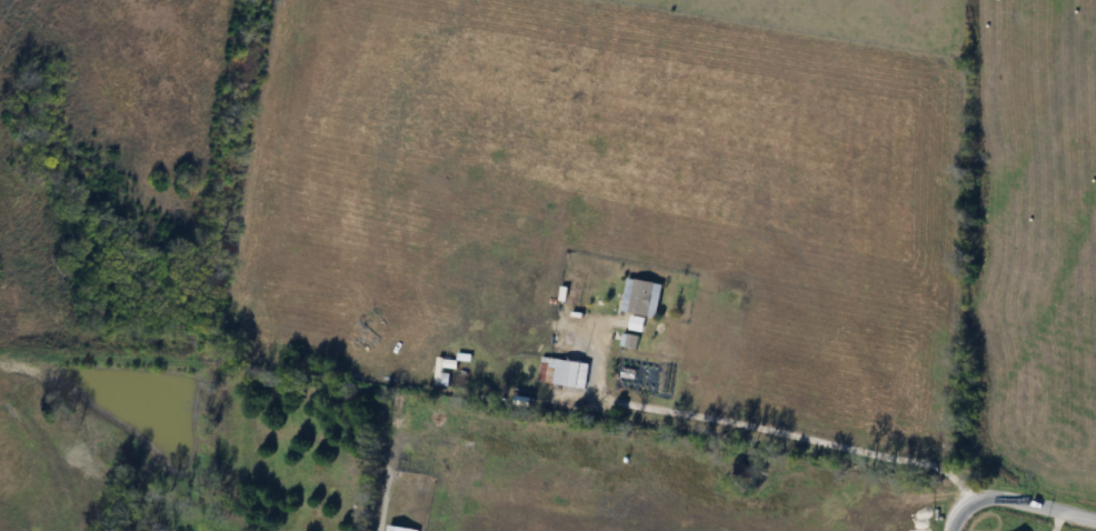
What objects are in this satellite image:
building: (642, 298)
building: (572, 373)
road: (759, 427)
road: (1014, 500)

